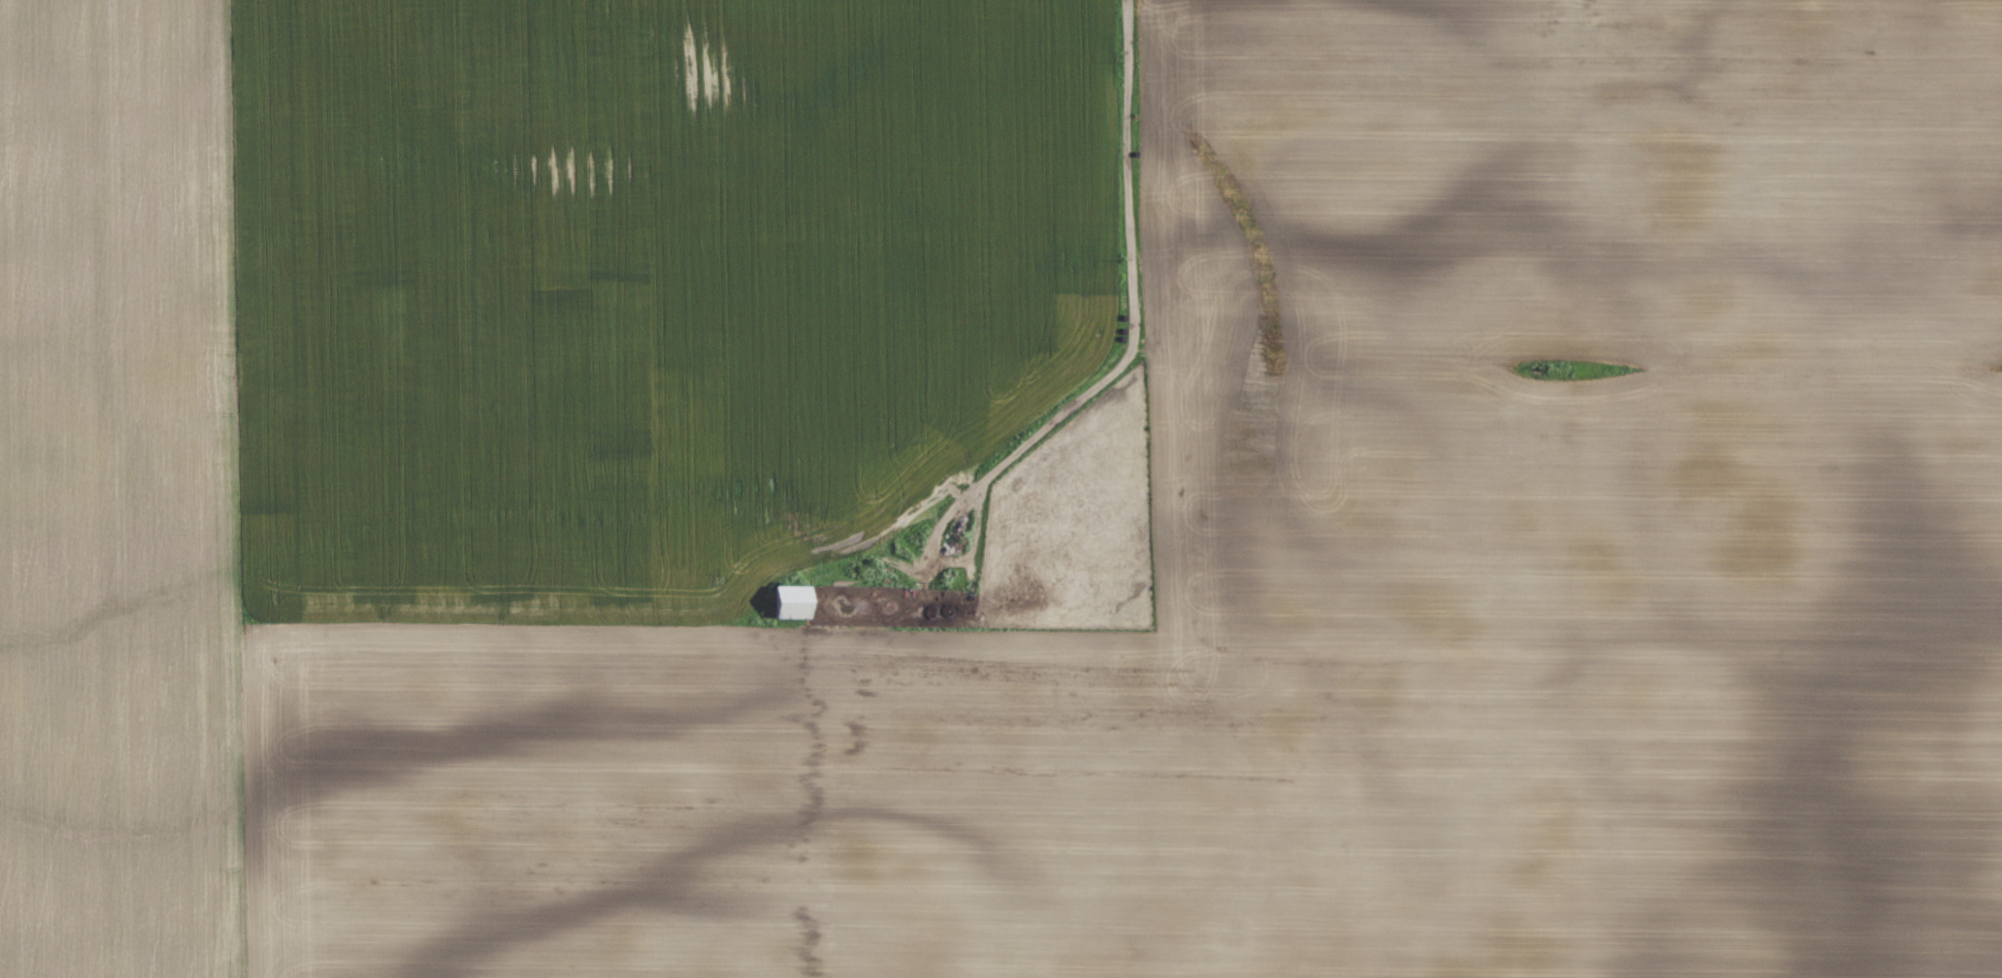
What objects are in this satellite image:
road: (1132, 305)
building: (795, 602)

